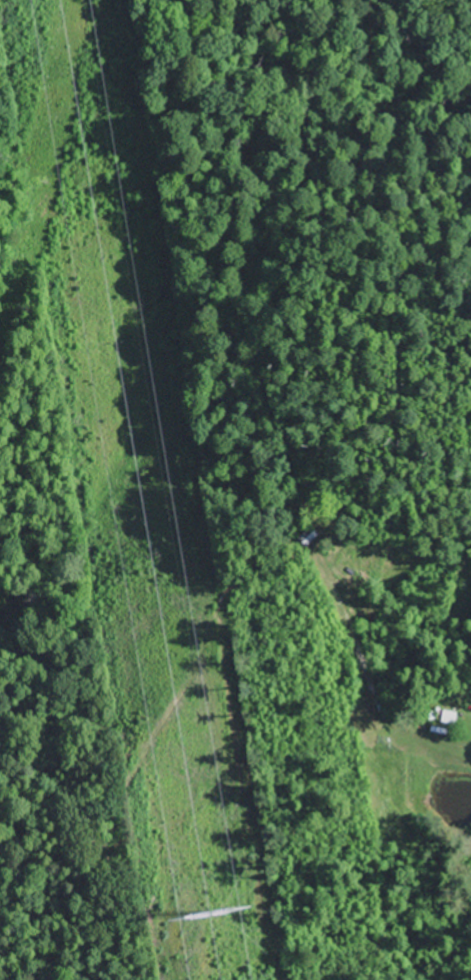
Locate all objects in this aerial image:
power tower: (225, 914)

